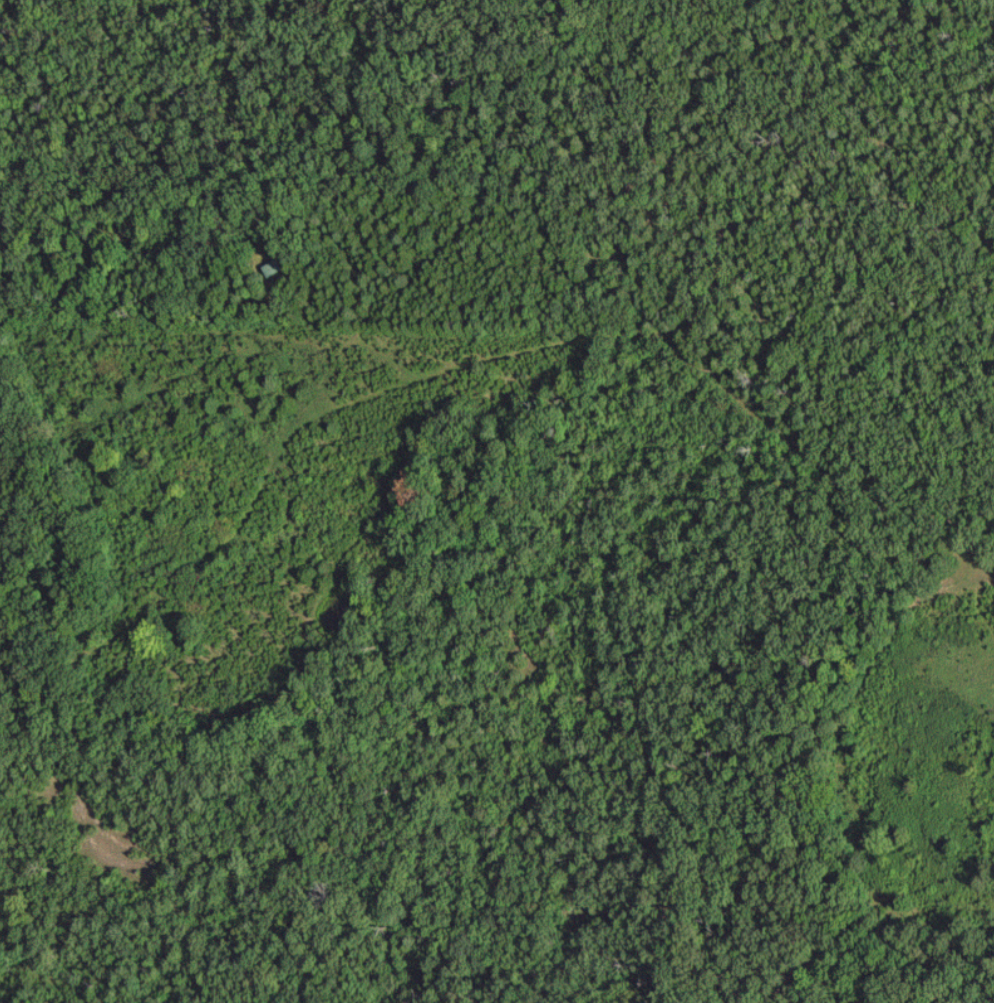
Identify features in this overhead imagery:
road: (826, 744)

